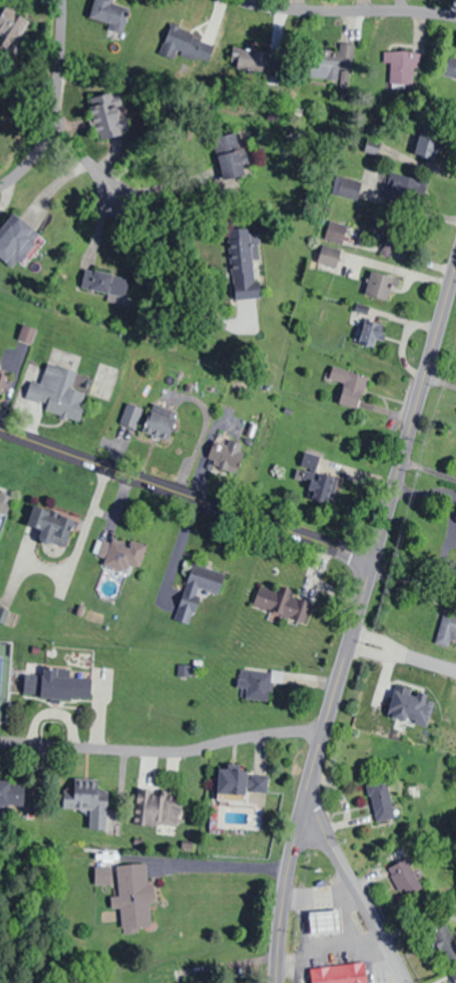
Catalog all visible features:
road: (348, 9)
building: (108, 15)
building: (10, 26)
building: (185, 44)
building: (251, 60)
building: (331, 63)
building: (401, 67)
building: (451, 67)
road: (53, 102)
building: (106, 115)
building: (426, 144)
road: (60, 161)
building: (231, 163)
building: (402, 188)
building: (13, 236)
building: (387, 239)
building: (241, 261)
building: (105, 284)
building: (379, 285)
building: (368, 333)
building: (1, 375)
building: (349, 386)
building: (55, 393)
building: (130, 415)
building: (158, 422)
building: (226, 452)
building: (321, 487)
road: (186, 494)
building: (4, 505)
building: (51, 526)
building: (120, 554)
building: (195, 594)
building: (278, 602)
road: (354, 622)
building: (446, 629)
road: (378, 638)
road: (374, 652)
road: (430, 661)
building: (255, 684)
building: (54, 685)
building: (422, 706)
road: (160, 750)
building: (231, 784)
building: (11, 794)
building: (380, 801)
building: (87, 802)
building: (156, 809)
building: (404, 879)
road: (354, 891)
building: (133, 896)
park: (32, 903)
building: (443, 943)
building: (453, 973)
building: (339, 974)

